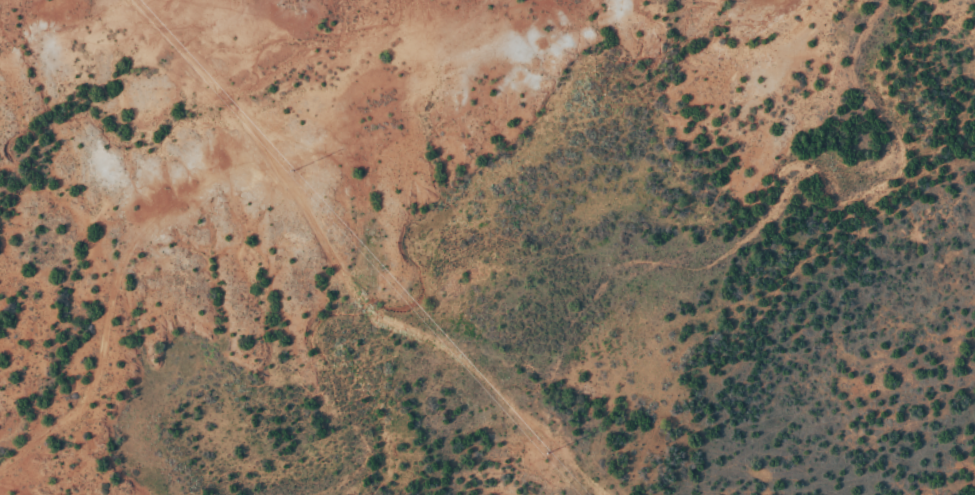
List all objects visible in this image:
power tower: (298, 174)
power tower: (545, 448)

